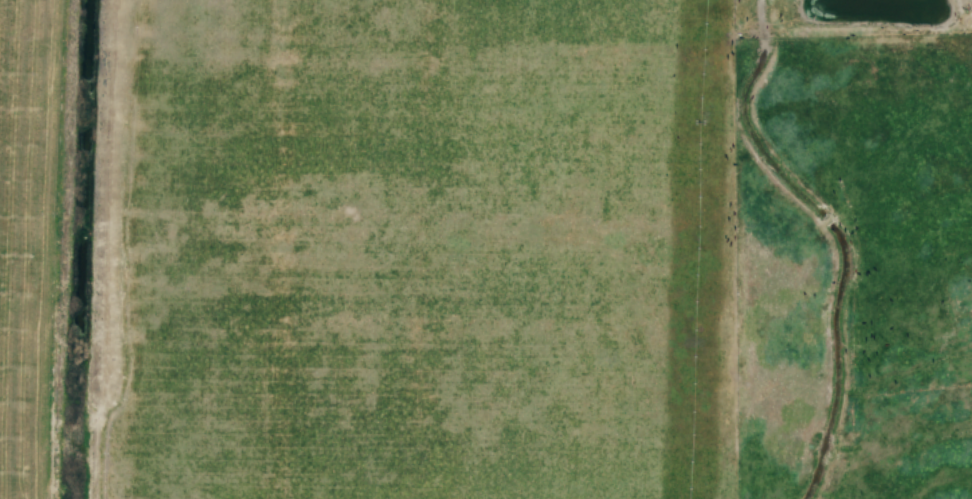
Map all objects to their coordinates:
wastewater plant: (79, 177)

